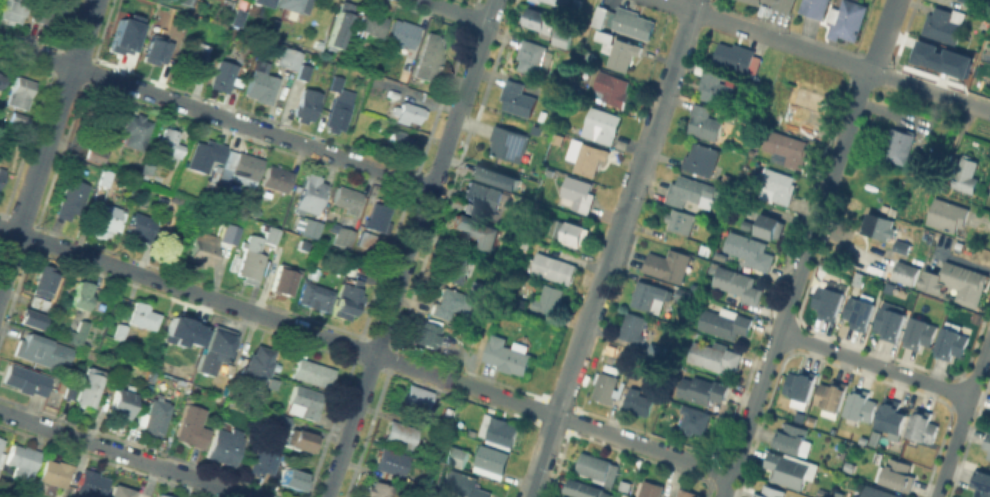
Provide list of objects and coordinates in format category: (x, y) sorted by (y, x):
building: (539, 0)
building: (562, 1)
building: (188, 2)
building: (260, 2)
building: (979, 2)
building: (291, 4)
road: (694, 5)
building: (773, 5)
building: (49, 10)
building: (816, 10)
building: (13, 11)
building: (240, 11)
road: (455, 11)
road: (892, 12)
building: (602, 13)
building: (844, 18)
building: (540, 19)
road: (585, 22)
building: (632, 22)
building: (368, 23)
building: (944, 23)
building: (274, 24)
building: (341, 25)
building: (123, 34)
building: (404, 35)
building: (563, 37)
building: (156, 46)
road: (879, 48)
building: (623, 53)
building: (531, 56)
building: (735, 56)
road: (826, 56)
building: (198, 57)
building: (289, 57)
building: (431, 57)
building: (940, 57)
building: (304, 71)
building: (0, 72)
building: (224, 75)
building: (3, 80)
building: (337, 83)
building: (262, 86)
building: (711, 86)
building: (610, 88)
building: (989, 90)
building: (21, 91)
building: (518, 96)
building: (809, 98)
building: (308, 105)
building: (409, 112)
building: (338, 113)
road: (216, 116)
building: (21, 117)
building: (704, 122)
building: (383, 124)
building: (601, 124)
building: (808, 127)
building: (135, 130)
road: (845, 131)
building: (166, 138)
road: (48, 140)
building: (401, 141)
building: (509, 141)
building: (899, 145)
building: (786, 147)
building: (94, 151)
building: (205, 154)
building: (586, 155)
building: (701, 158)
building: (243, 164)
building: (2, 174)
building: (502, 175)
building: (967, 175)
building: (105, 177)
building: (278, 178)
building: (726, 178)
building: (780, 184)
building: (690, 190)
building: (310, 193)
building: (484, 193)
building: (577, 193)
building: (70, 197)
building: (349, 198)
building: (216, 199)
building: (162, 203)
building: (473, 208)
road: (625, 212)
building: (948, 214)
building: (105, 217)
building: (680, 220)
building: (376, 224)
building: (747, 225)
building: (771, 225)
building: (142, 226)
building: (879, 226)
building: (311, 227)
building: (475, 230)
building: (573, 232)
building: (272, 234)
building: (345, 236)
building: (902, 246)
building: (204, 248)
road: (412, 248)
building: (705, 249)
building: (751, 251)
building: (251, 259)
building: (668, 264)
building: (552, 267)
building: (455, 268)
building: (901, 270)
building: (284, 279)
building: (43, 280)
building: (959, 282)
building: (739, 285)
building: (480, 287)
building: (81, 293)
building: (683, 293)
building: (317, 296)
building: (647, 296)
building: (549, 299)
building: (348, 301)
building: (37, 302)
building: (829, 302)
building: (453, 303)
building: (860, 314)
building: (144, 315)
building: (30, 318)
building: (978, 318)
building: (723, 323)
building: (892, 324)
road: (488, 326)
building: (633, 327)
building: (121, 331)
building: (182, 331)
building: (78, 333)
building: (426, 334)
building: (922, 334)
building: (953, 343)
road: (774, 345)
building: (655, 348)
building: (216, 349)
road: (365, 349)
building: (42, 351)
building: (509, 355)
building: (711, 356)
building: (258, 364)
road: (875, 364)
building: (118, 365)
building: (314, 372)
building: (27, 379)
building: (801, 384)
building: (73, 385)
building: (607, 386)
building: (91, 387)
building: (700, 388)
building: (832, 395)
building: (419, 397)
building: (122, 401)
building: (307, 401)
building: (639, 401)
building: (863, 406)
building: (153, 416)
building: (893, 417)
building: (692, 418)
road: (963, 418)
building: (276, 419)
building: (193, 426)
building: (924, 426)
building: (499, 430)
building: (400, 434)
building: (791, 438)
building: (303, 439)
building: (875, 439)
building: (1, 442)
building: (988, 442)
building: (421, 444)
building: (226, 445)
road: (123, 455)
road: (543, 456)
building: (989, 456)
building: (461, 457)
building: (492, 457)
building: (2, 458)
building: (391, 461)
building: (24, 462)
building: (259, 462)
road: (438, 466)
building: (597, 468)
building: (788, 470)
building: (56, 471)
building: (900, 475)
building: (294, 480)
building: (92, 483)
building: (463, 483)
building: (982, 483)
building: (626, 484)
building: (378, 489)
building: (586, 489)
building: (648, 489)
building: (123, 492)
building: (771, 492)
building: (684, 493)
building: (879, 493)
building: (162, 495)
building: (566, 496)

